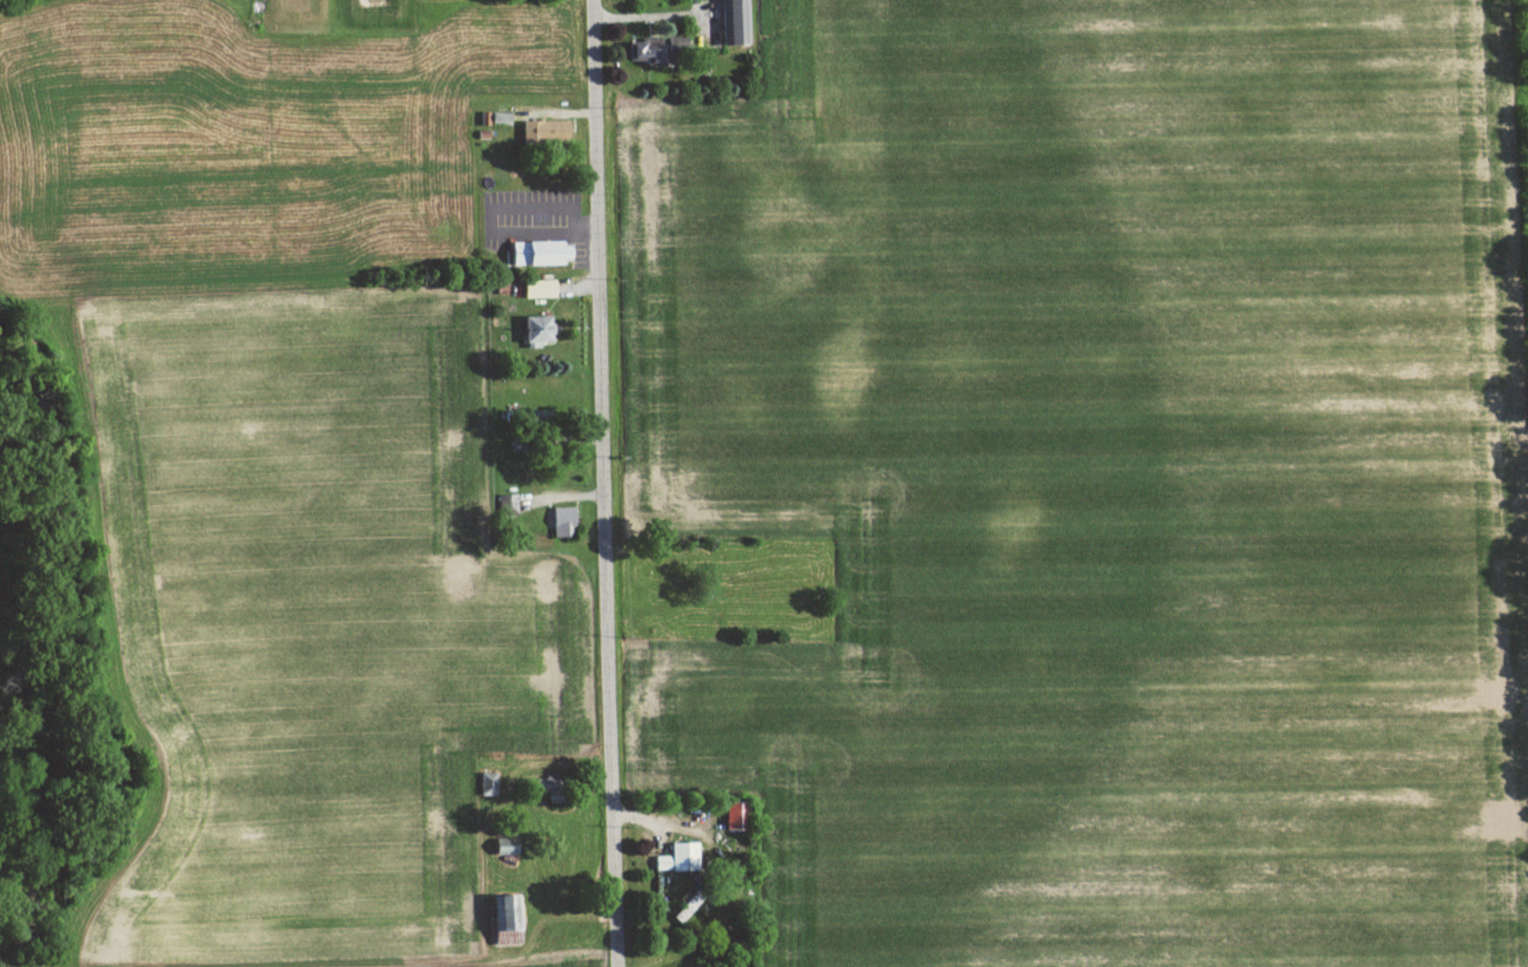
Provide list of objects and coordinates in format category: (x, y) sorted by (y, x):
building: (732, 23)
building: (641, 54)
building: (540, 130)
crop: (215, 159)
building: (532, 252)
building: (534, 288)
building: (530, 329)
crop: (1101, 481)
road: (606, 483)
building: (502, 504)
building: (557, 521)
crop: (310, 615)
building: (483, 784)
building: (730, 816)
building: (500, 850)
building: (673, 858)
building: (681, 909)
building: (501, 920)
crop: (583, 966)

